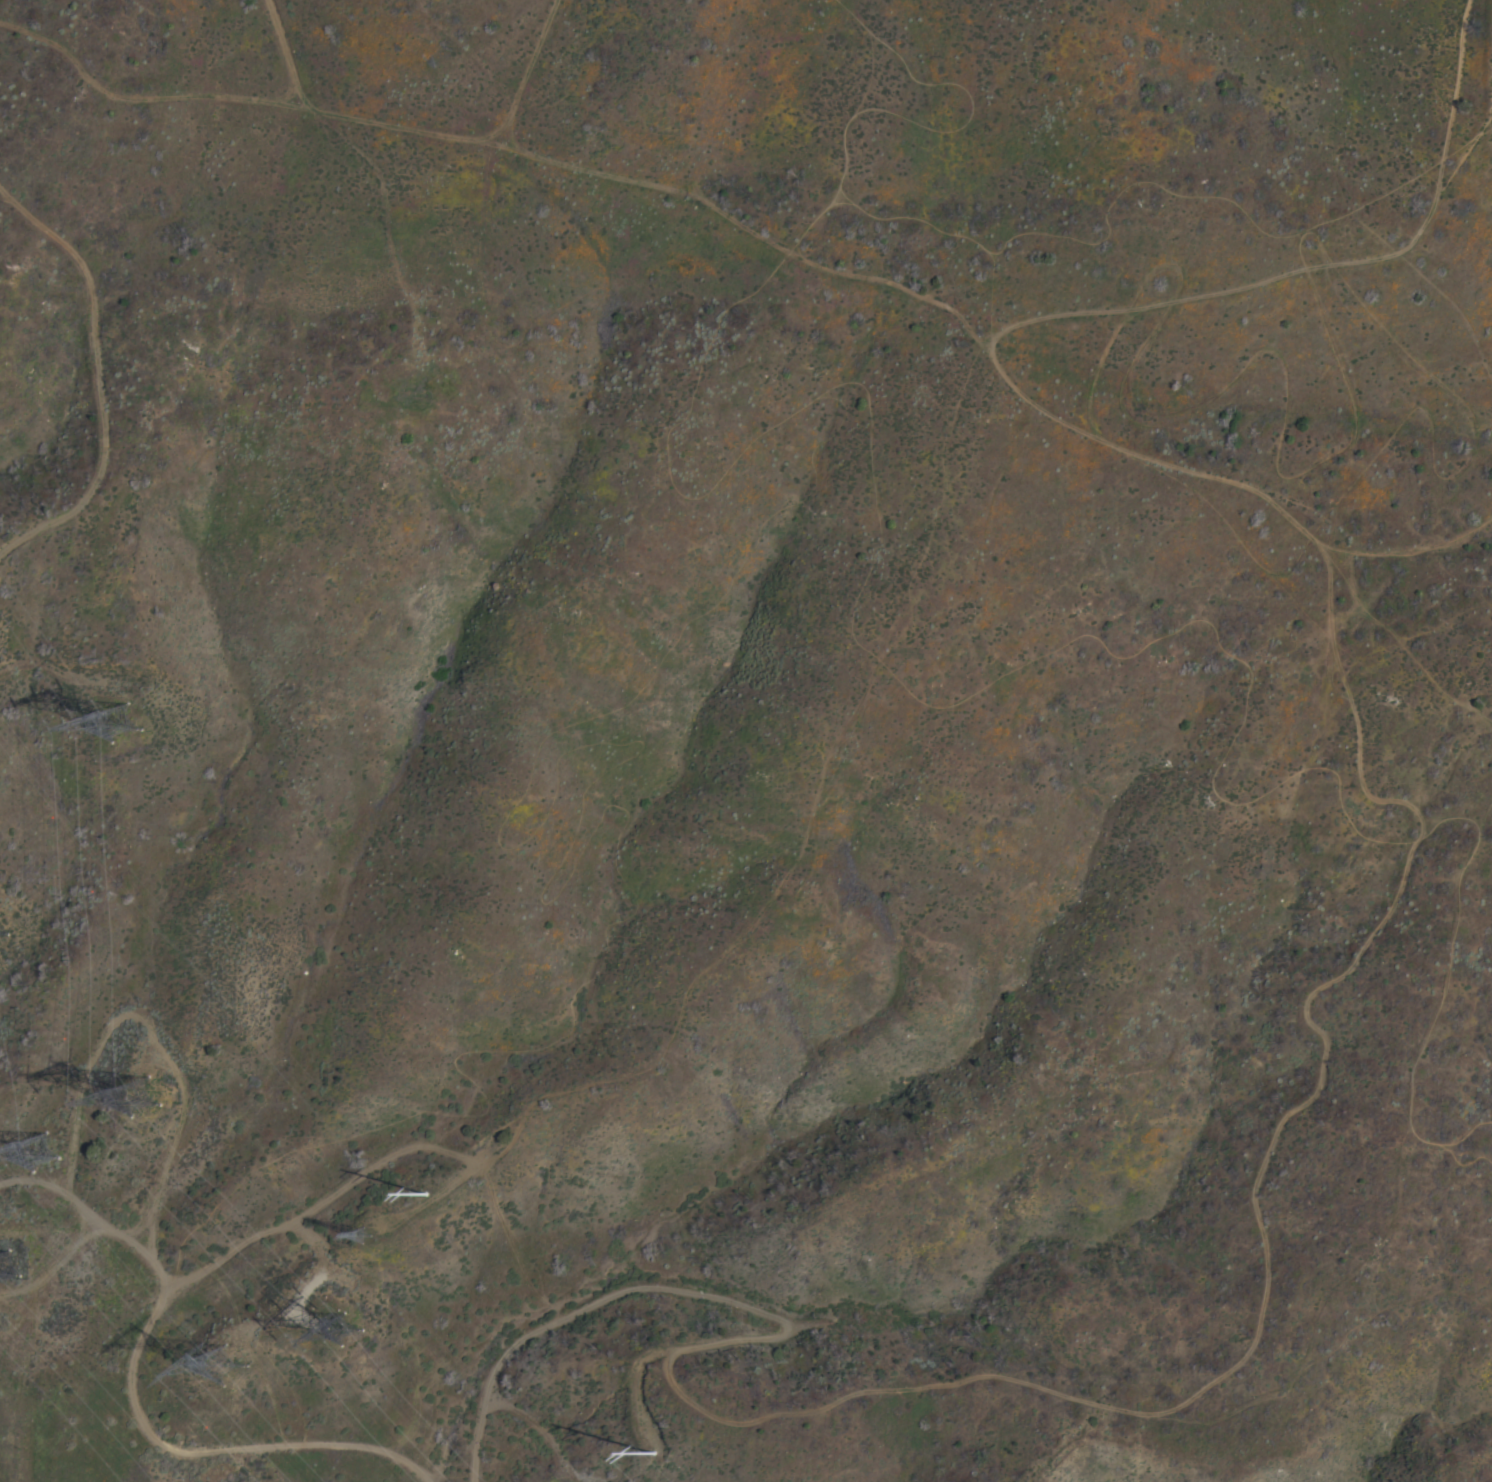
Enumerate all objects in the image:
road: (285, 53)
road: (522, 81)
road: (512, 141)
road: (707, 204)
road: (1319, 265)
road: (95, 379)
road: (1218, 389)
road: (1461, 466)
road: (1406, 550)
power tower: (121, 721)
road: (1321, 1071)
power tower: (141, 1097)
power tower: (430, 1194)
power tower: (368, 1231)
power tower: (1, 1266)
power tower: (330, 1312)
road: (769, 1336)
power tower: (252, 1370)
road: (638, 1378)
road: (132, 1403)
power tower: (658, 1453)

